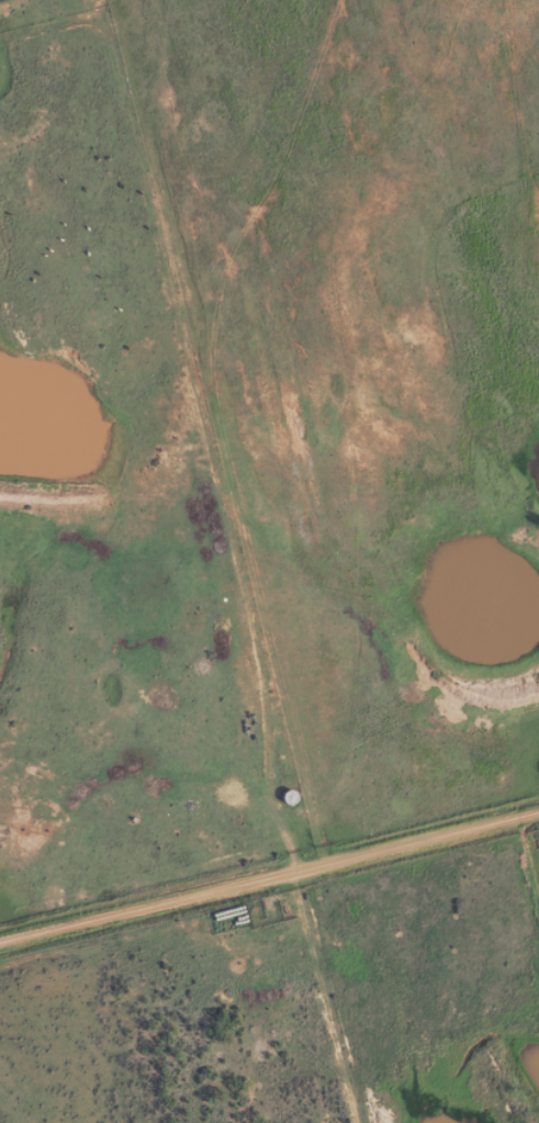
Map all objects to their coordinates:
road: (269, 864)

